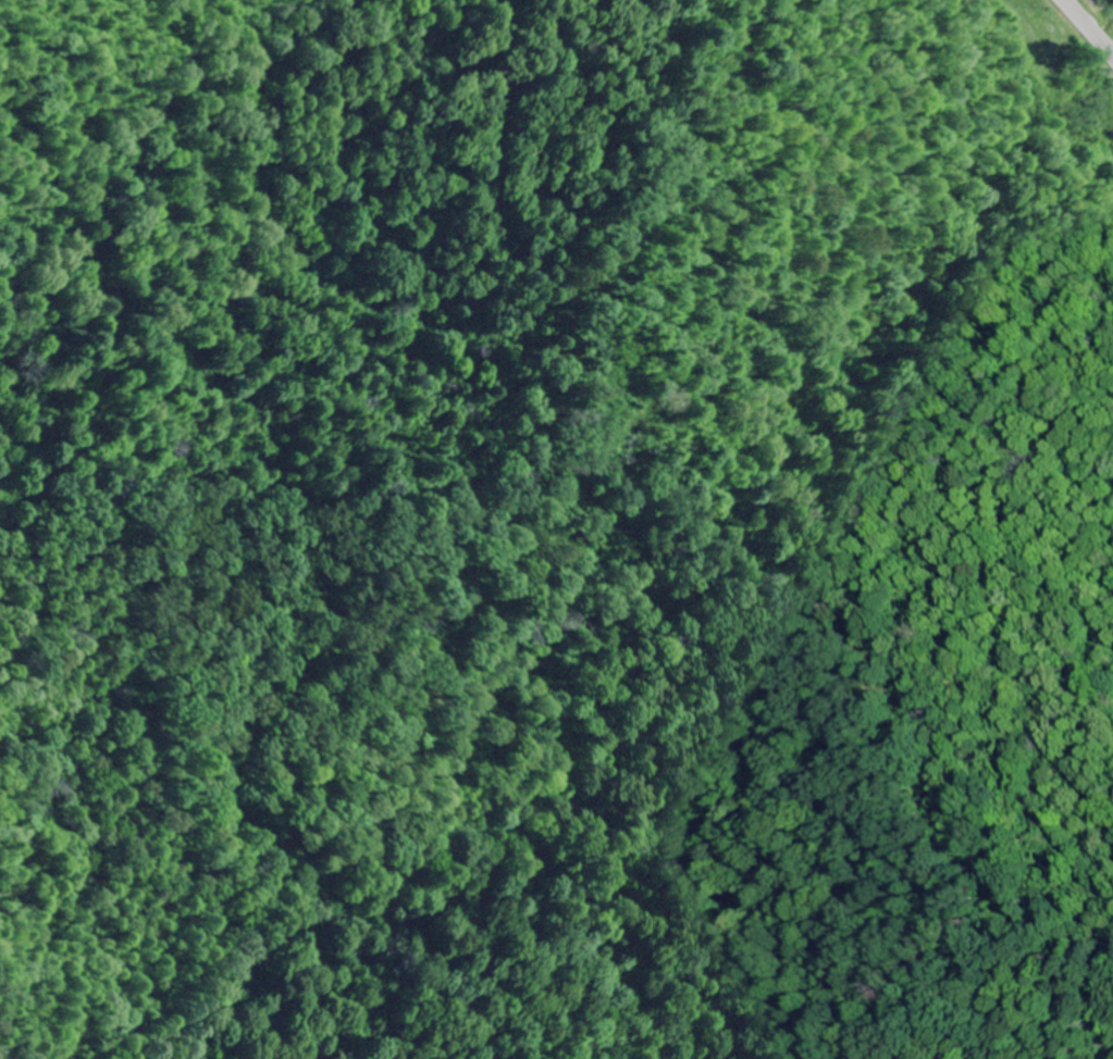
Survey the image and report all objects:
road: (1090, 25)

